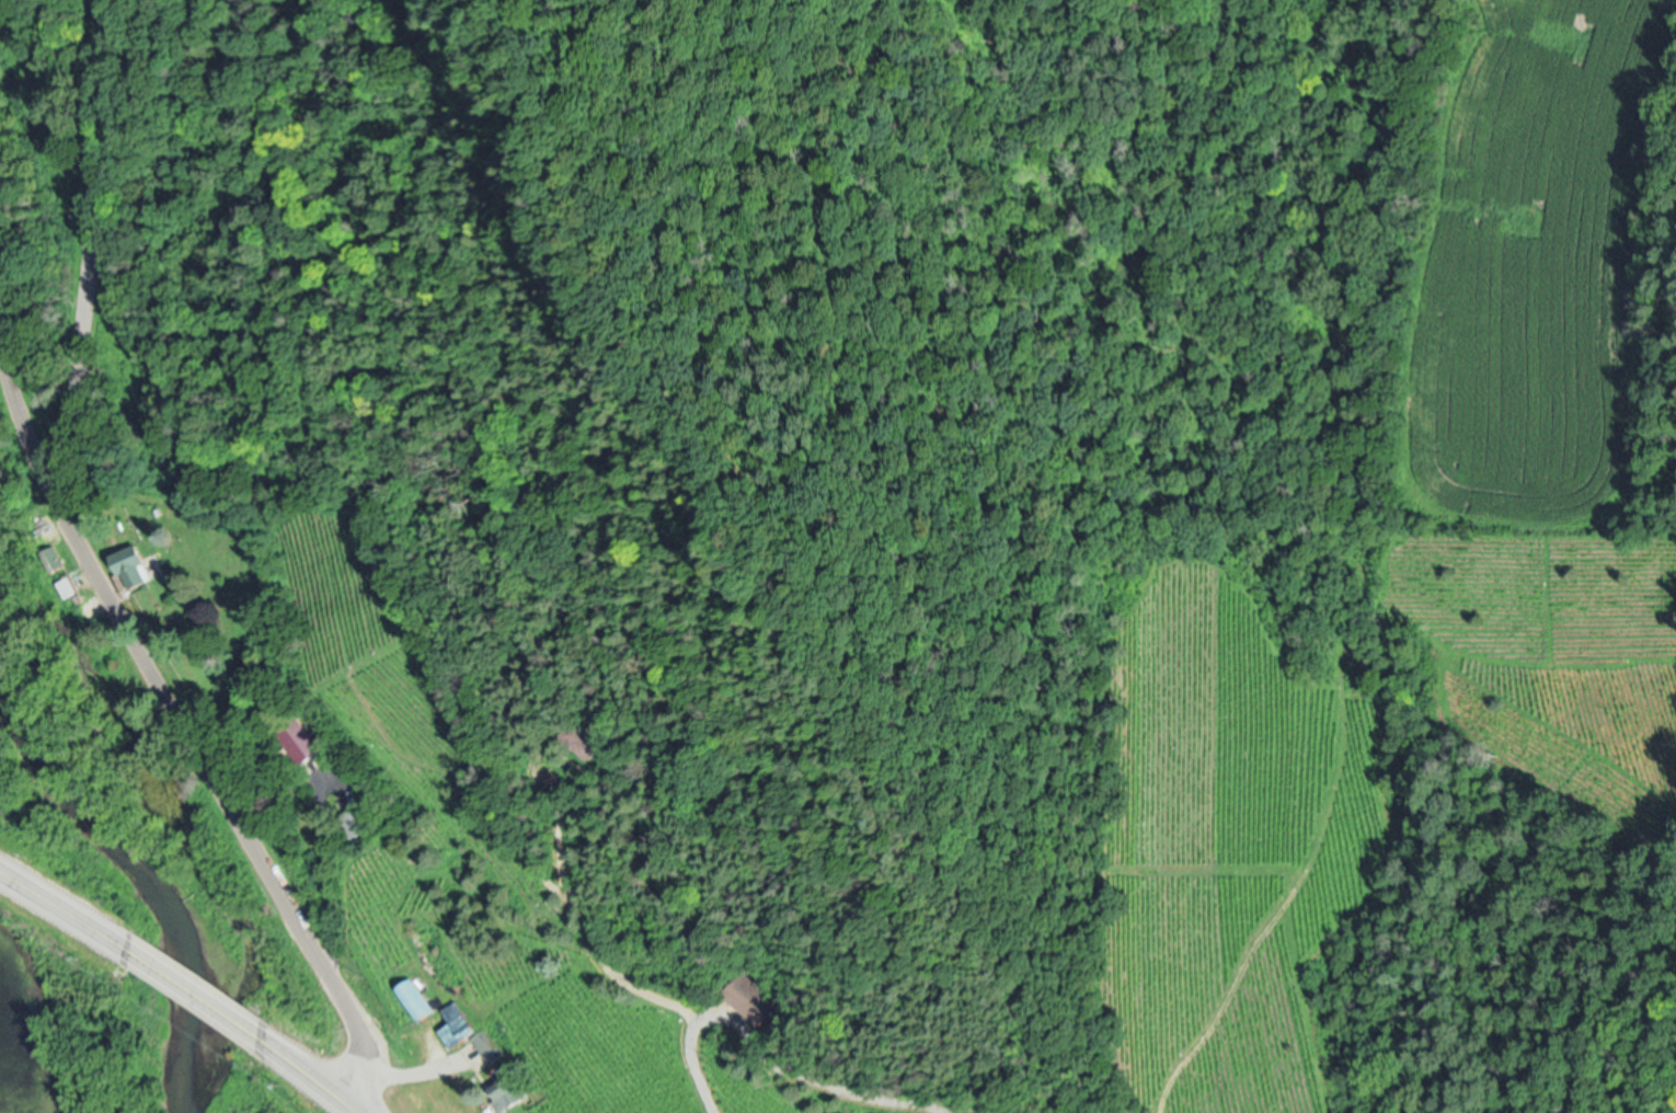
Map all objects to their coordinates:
road: (93, 245)
road: (21, 414)
building: (53, 558)
building: (129, 566)
building: (66, 586)
building: (583, 738)
building: (300, 739)
road: (219, 795)
building: (355, 821)
road: (65, 905)
road: (586, 932)
road: (194, 990)
building: (414, 998)
building: (749, 998)
building: (466, 1031)
road: (762, 1062)
road: (309, 1074)
building: (505, 1091)

